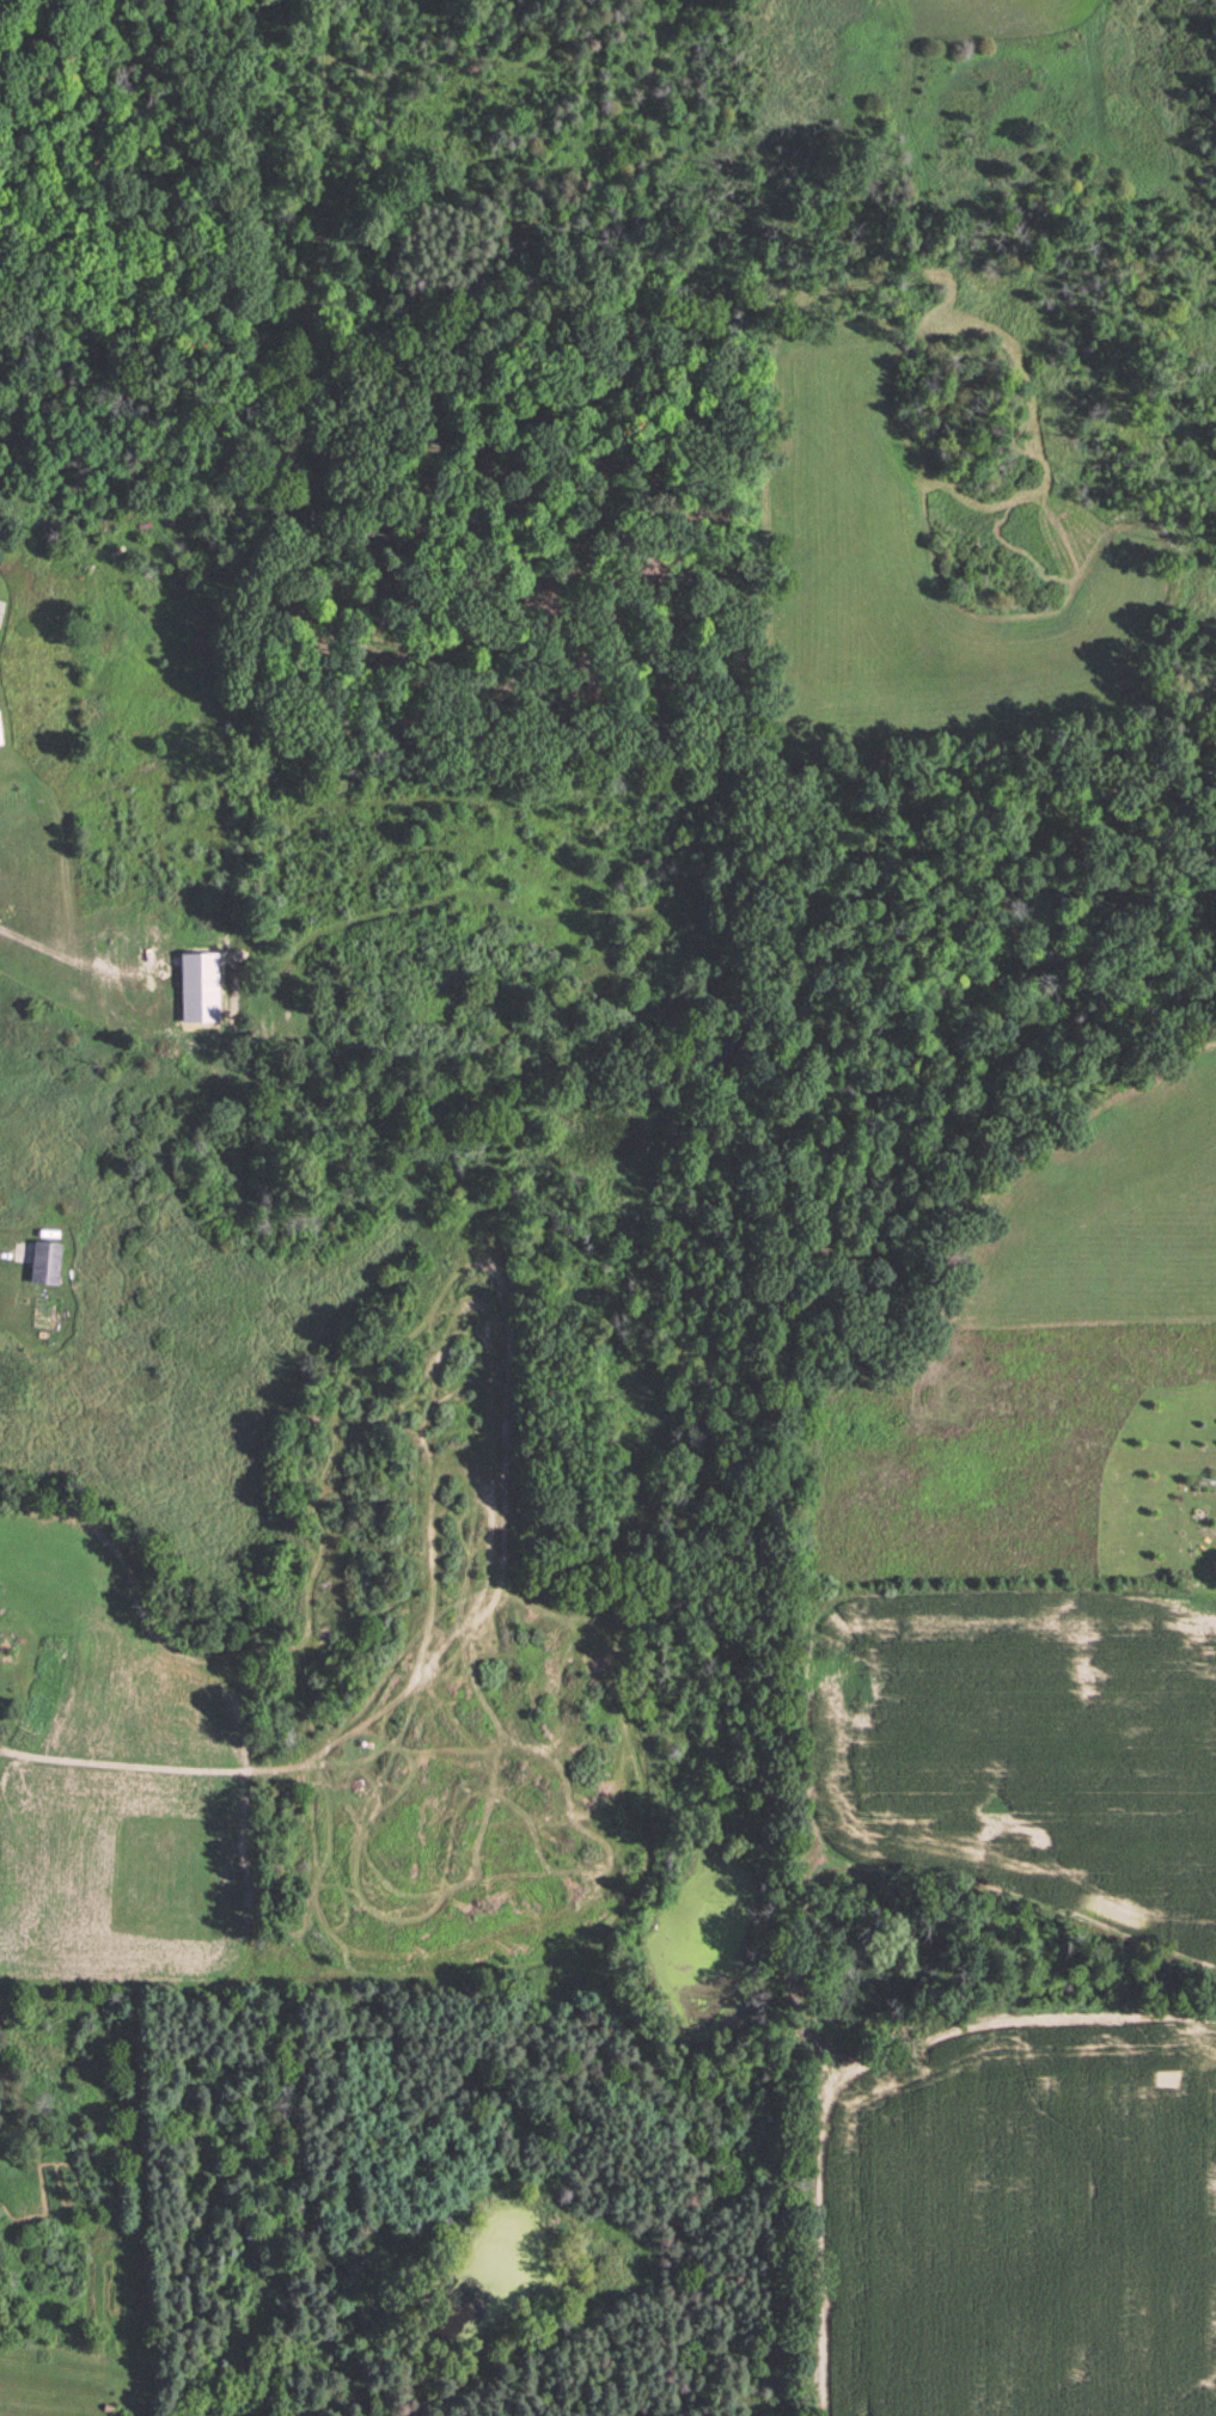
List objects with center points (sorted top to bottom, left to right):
crop: (991, 22)
building: (0, 734)
crop: (1118, 1207)
building: (47, 1264)
crop: (1020, 1750)

